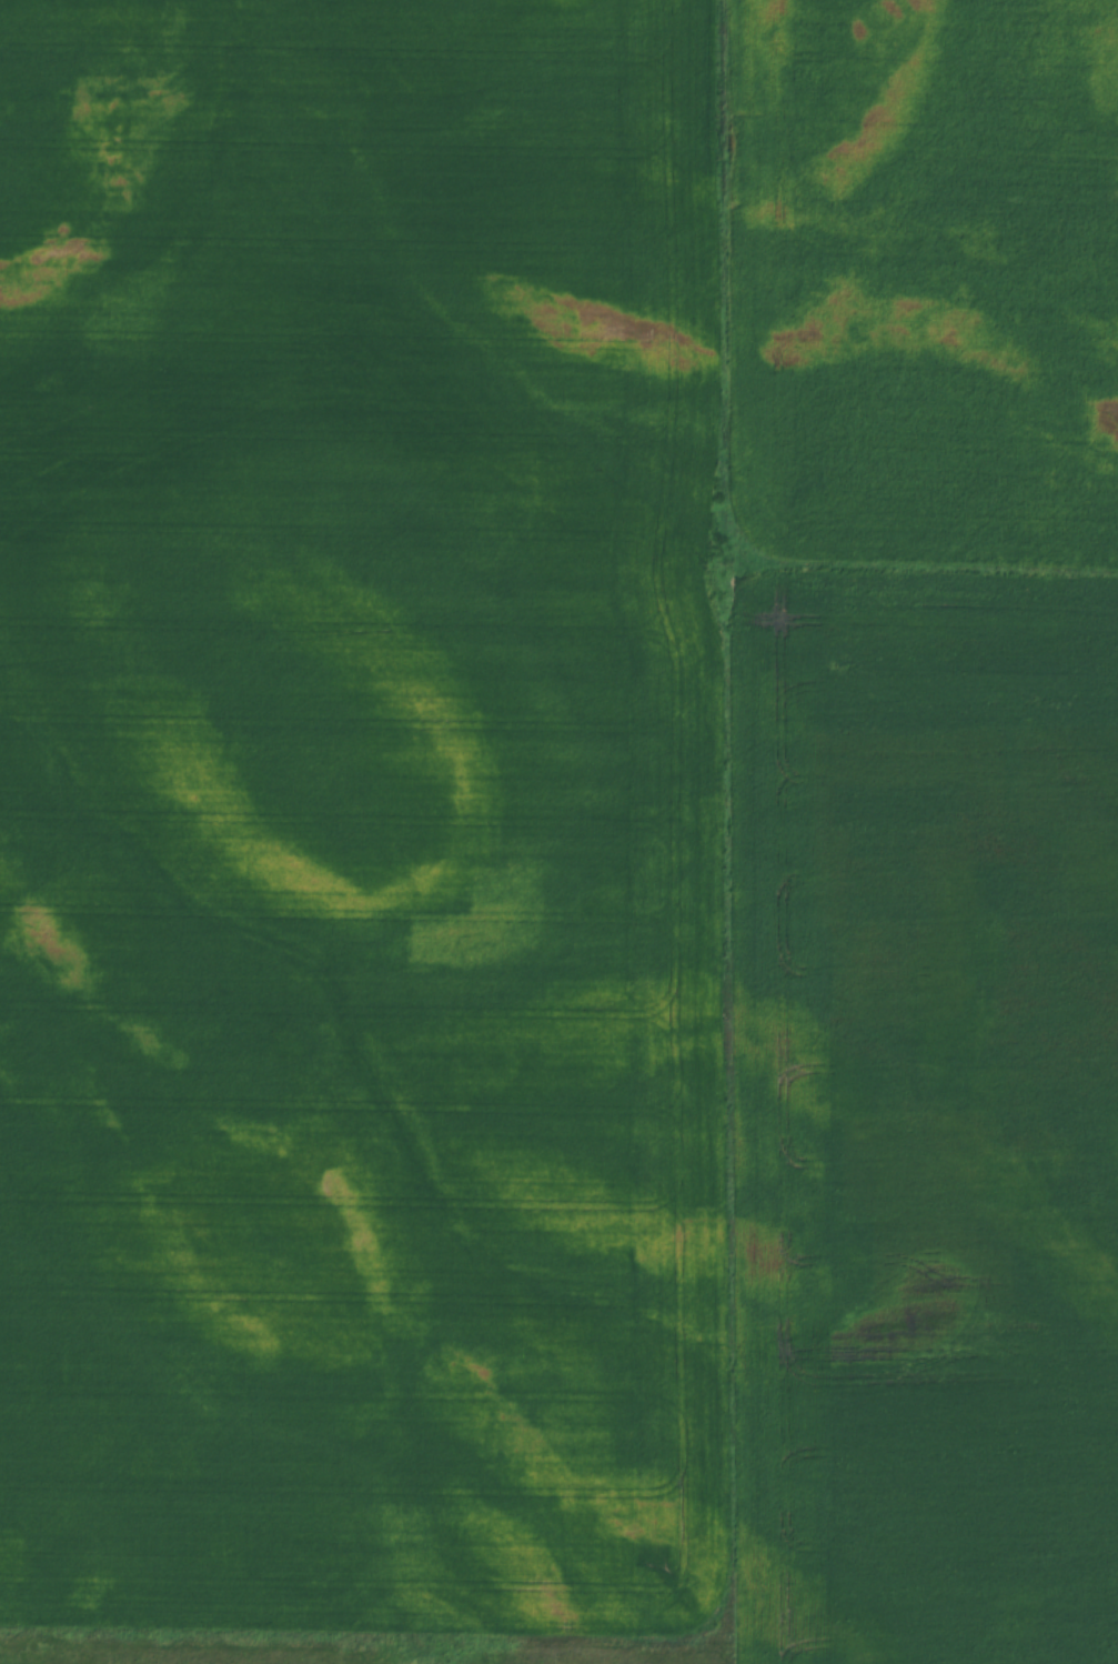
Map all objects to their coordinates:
crop: (924, 278)

